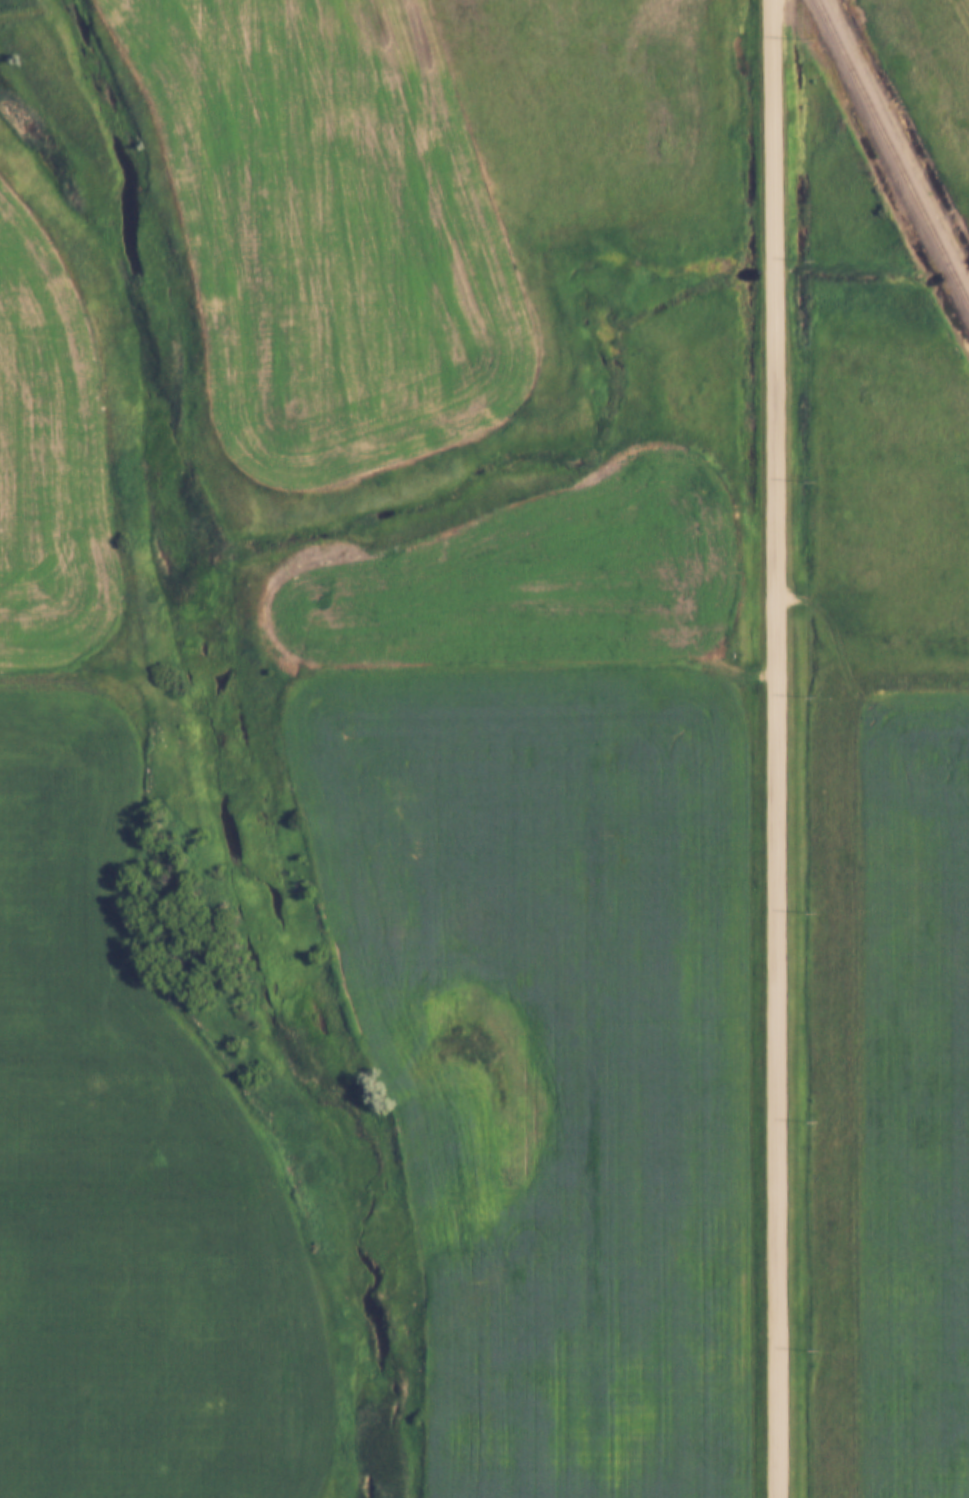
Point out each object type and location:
railway: (891, 154)
road: (778, 748)

